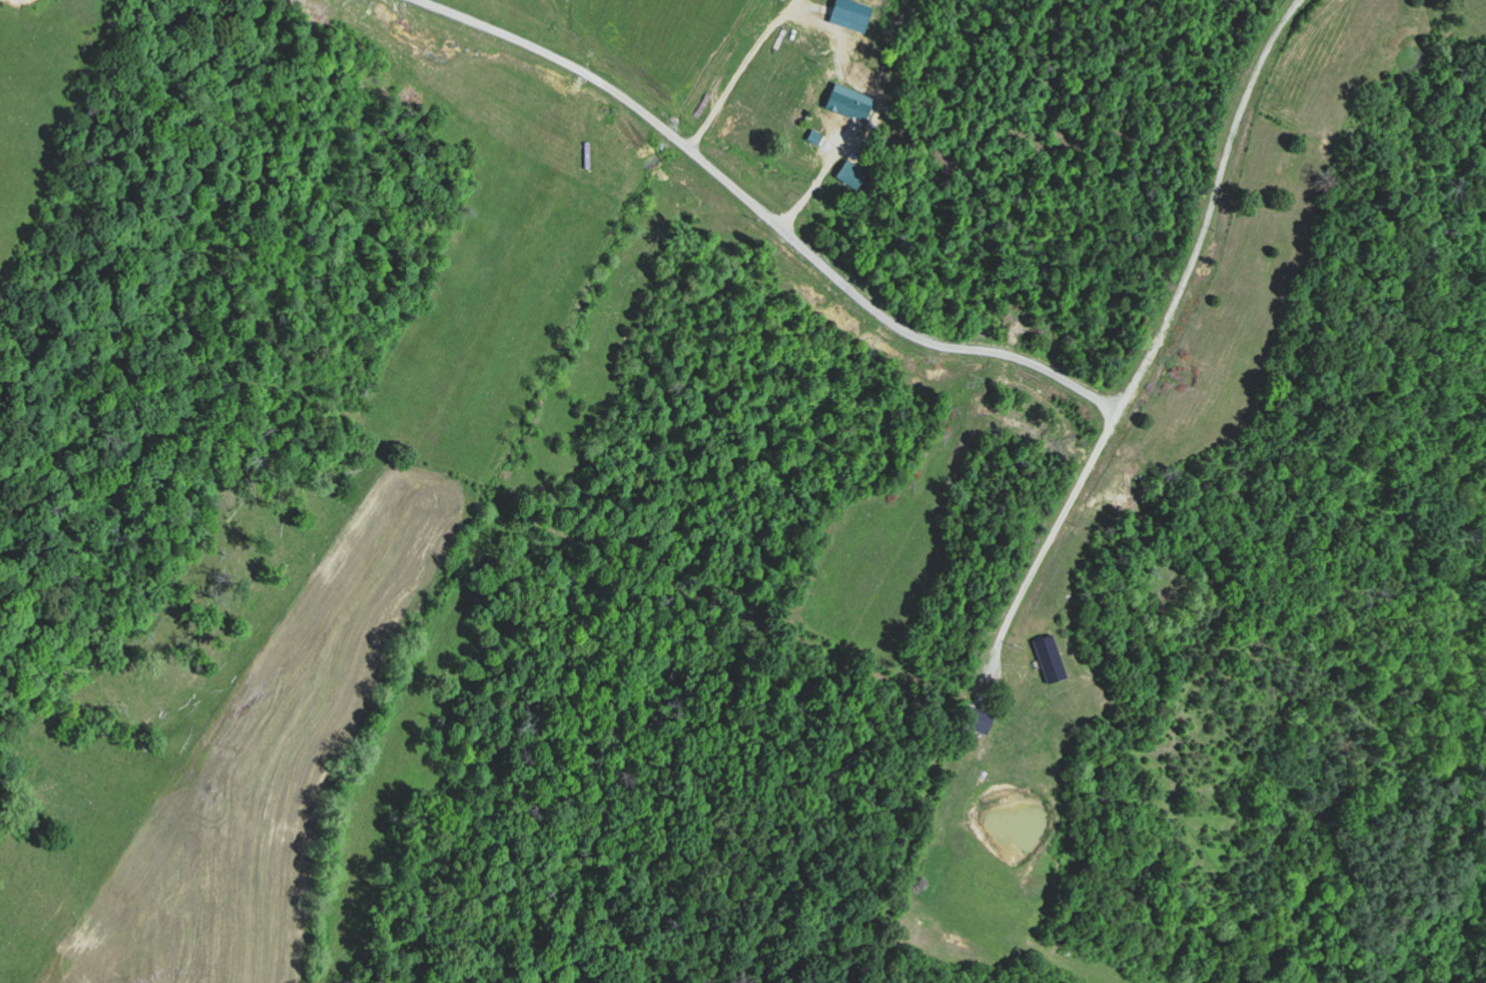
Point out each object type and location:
building: (857, 15)
building: (850, 102)
building: (853, 174)
road: (765, 212)
road: (1148, 351)
building: (1054, 660)

